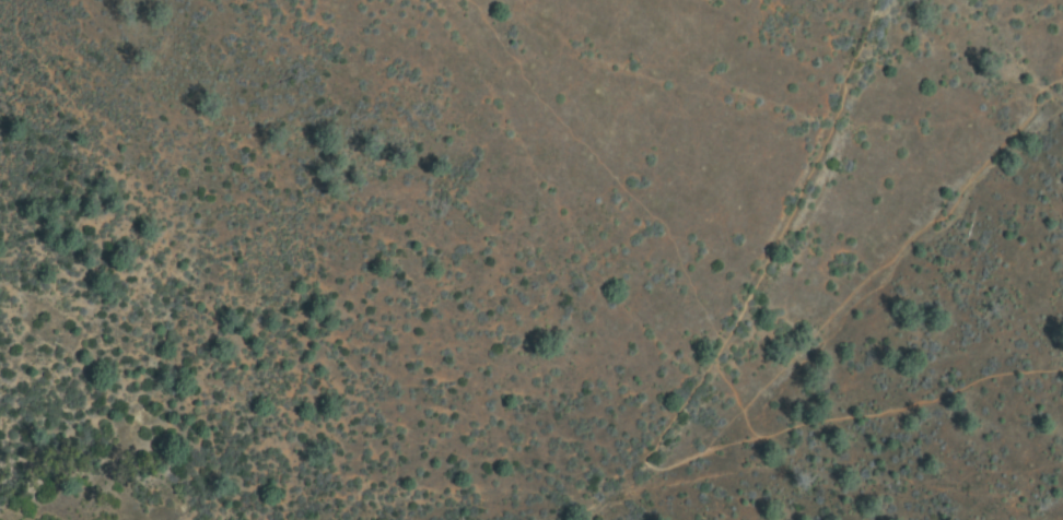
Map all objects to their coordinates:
road: (666, 432)

